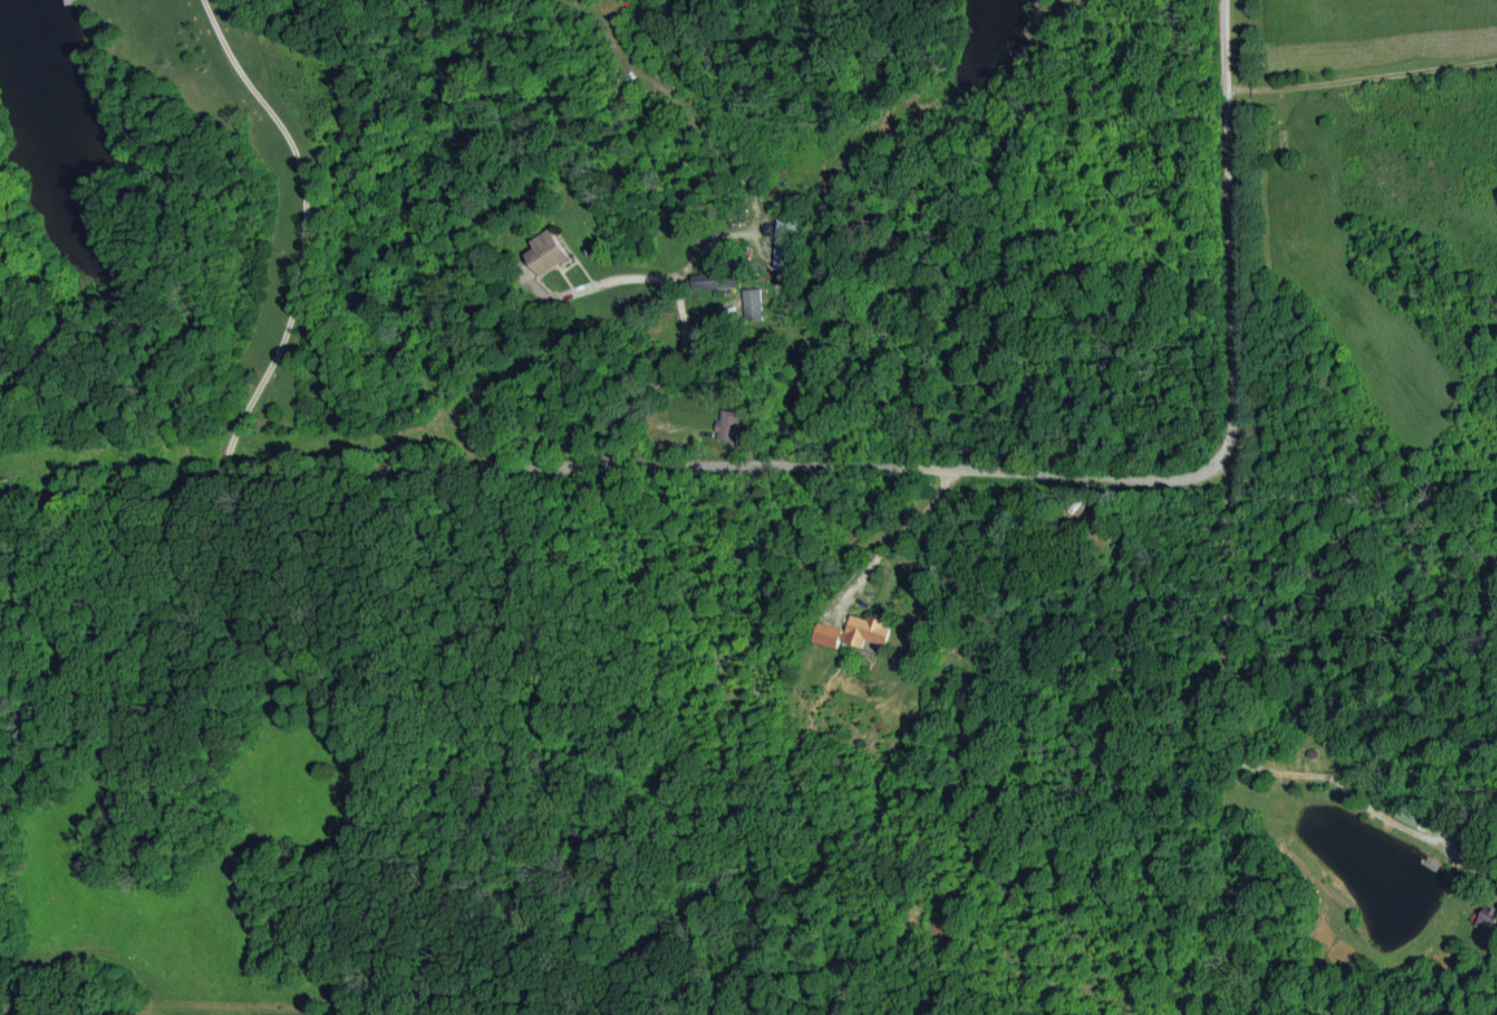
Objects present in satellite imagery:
building: (545, 253)
building: (782, 254)
building: (525, 269)
building: (712, 282)
building: (753, 304)
building: (729, 425)
road: (840, 475)
building: (866, 629)
building: (827, 633)
building: (1411, 815)
building: (1489, 918)

